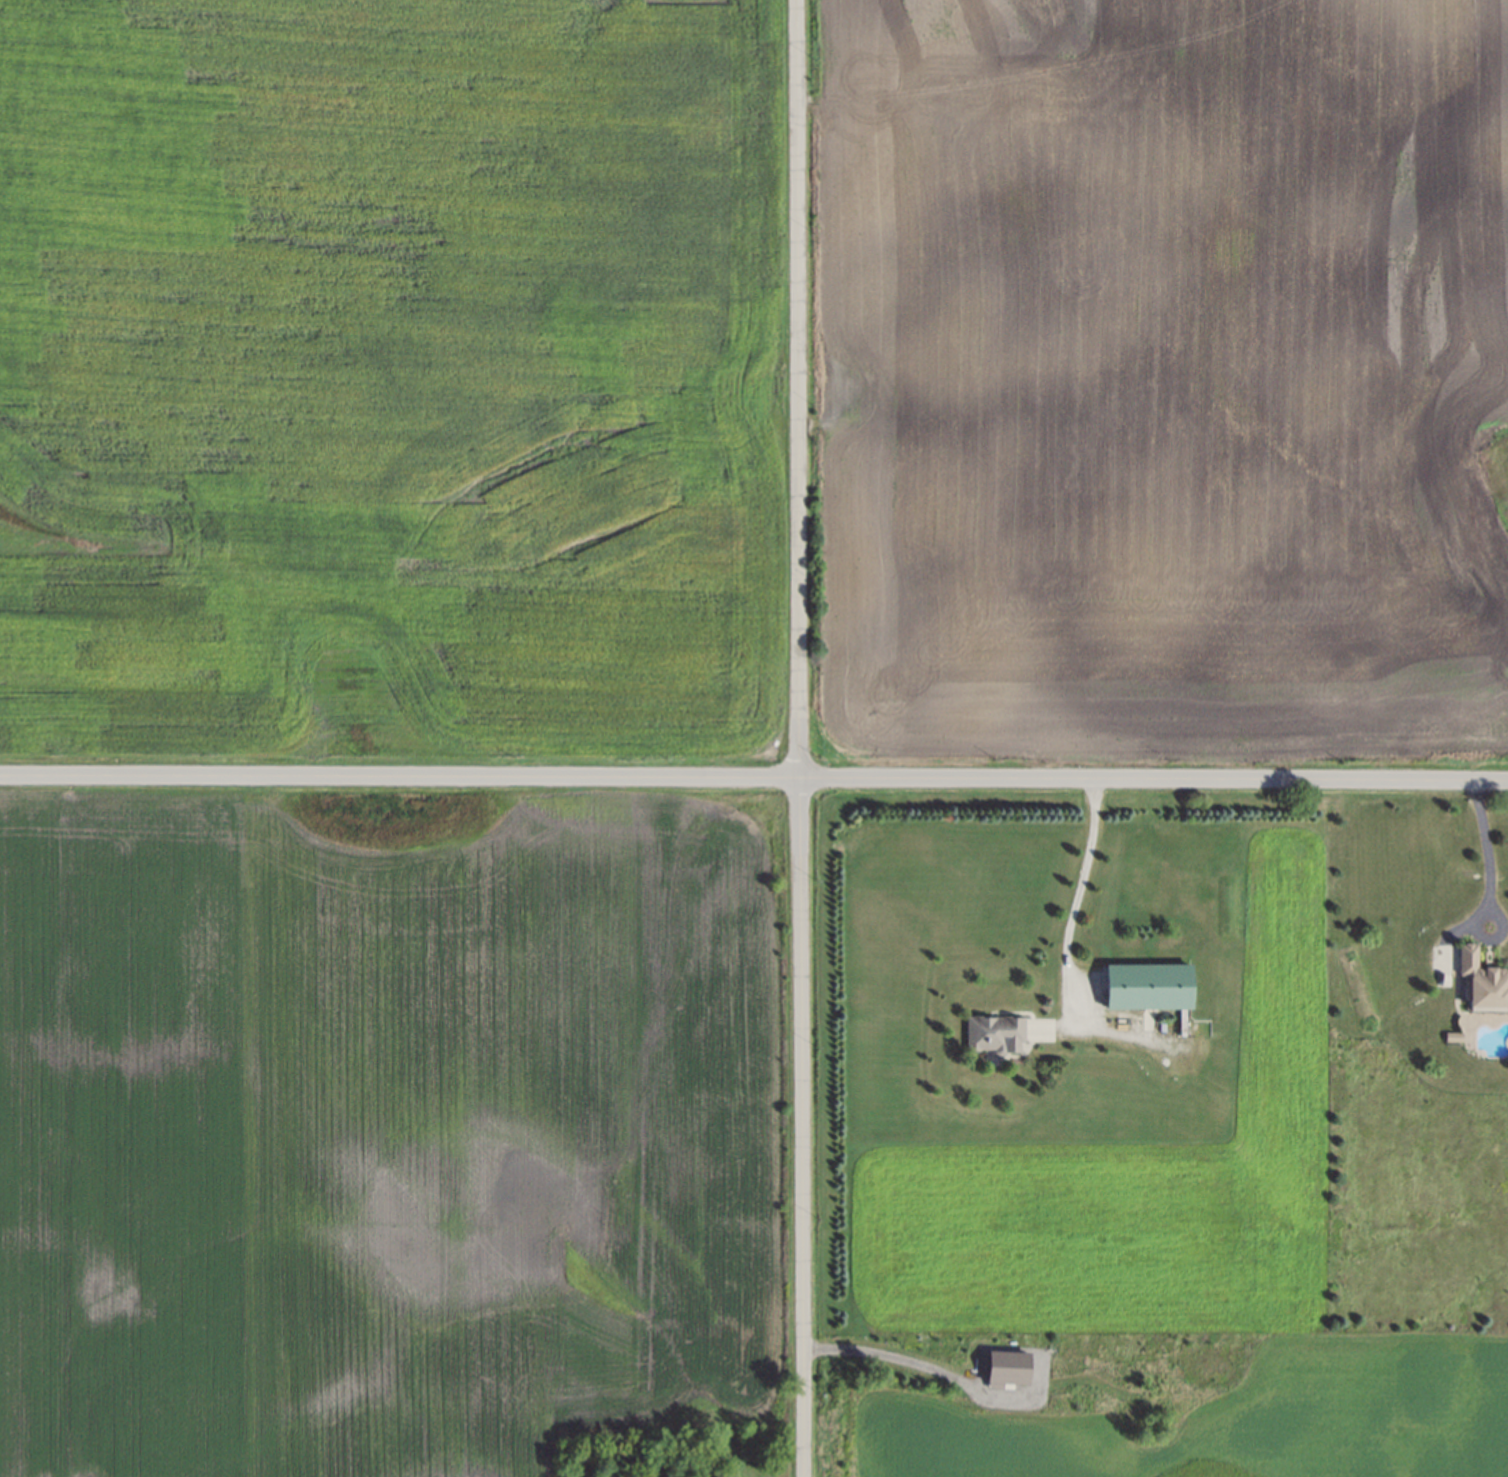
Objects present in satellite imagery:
crop: (1162, 382)
road: (800, 738)
road: (754, 777)
road: (1486, 852)
road: (1067, 926)
building: (1142, 982)
building: (1481, 983)
building: (990, 1030)
building: (1451, 1037)
crop: (378, 1134)
road: (901, 1360)
building: (1008, 1368)

